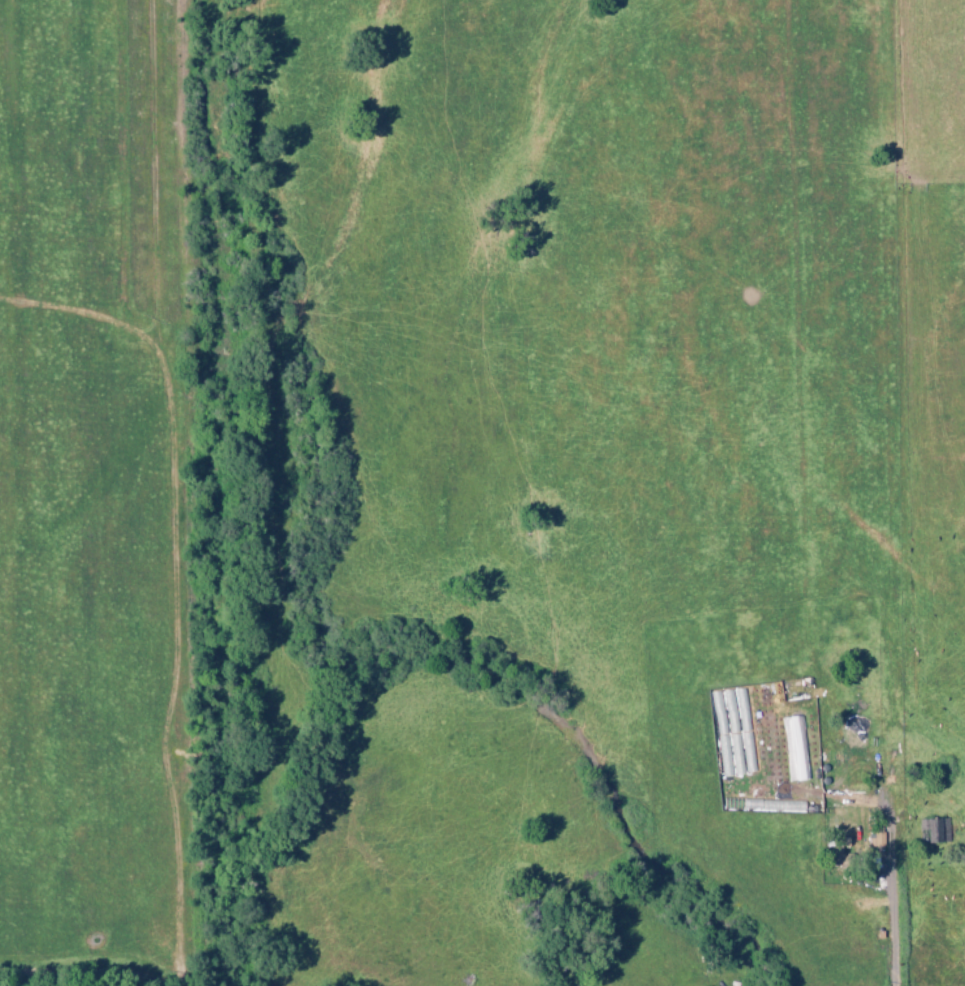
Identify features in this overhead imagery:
building: (794, 749)

